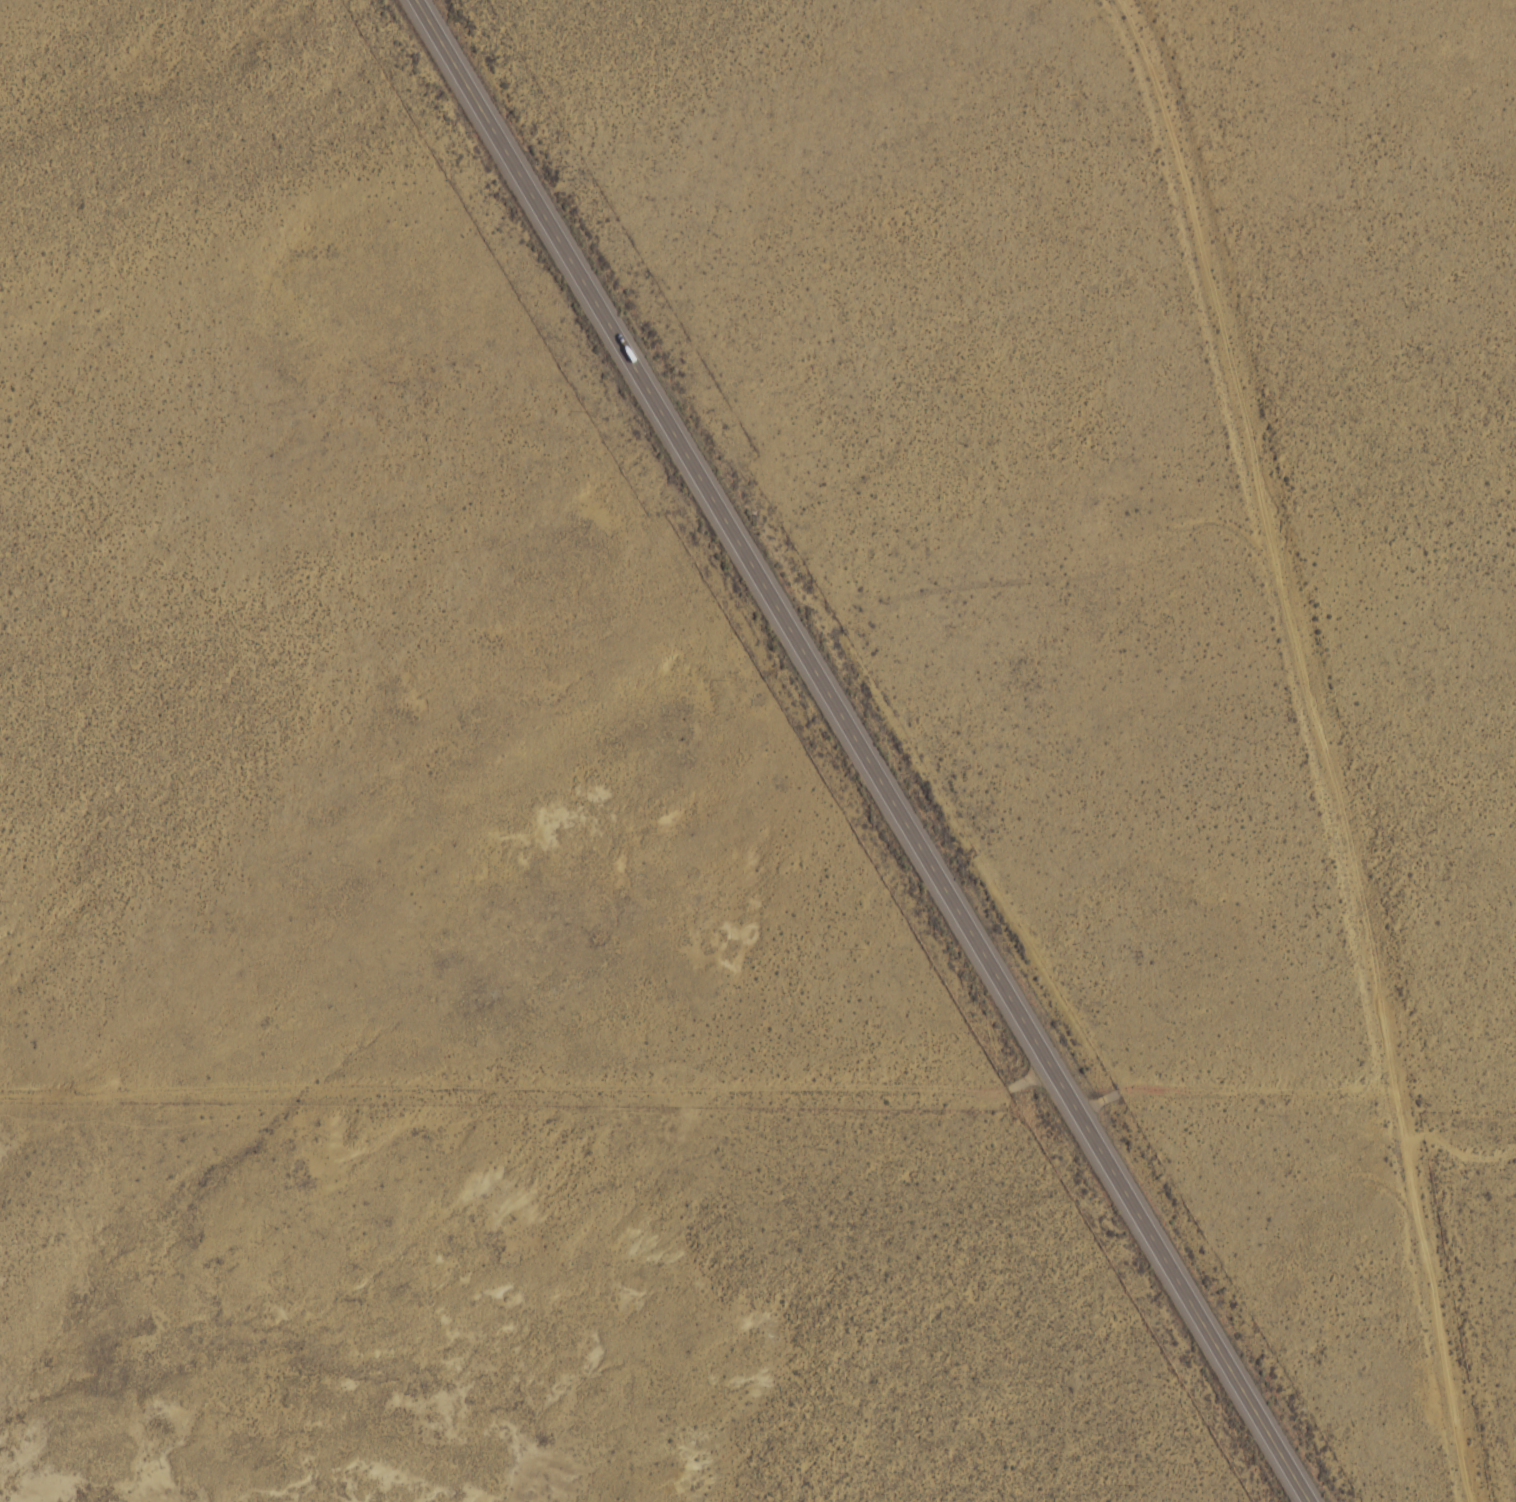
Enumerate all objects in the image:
road: (1317, 750)
road: (860, 753)
road: (758, 1082)

